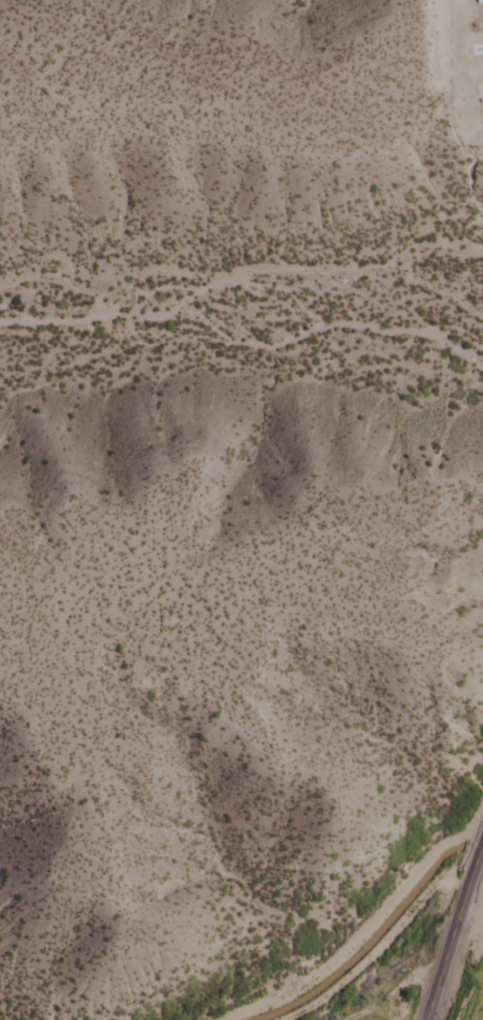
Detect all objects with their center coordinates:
road: (446, 915)
road: (353, 935)
road: (371, 952)

